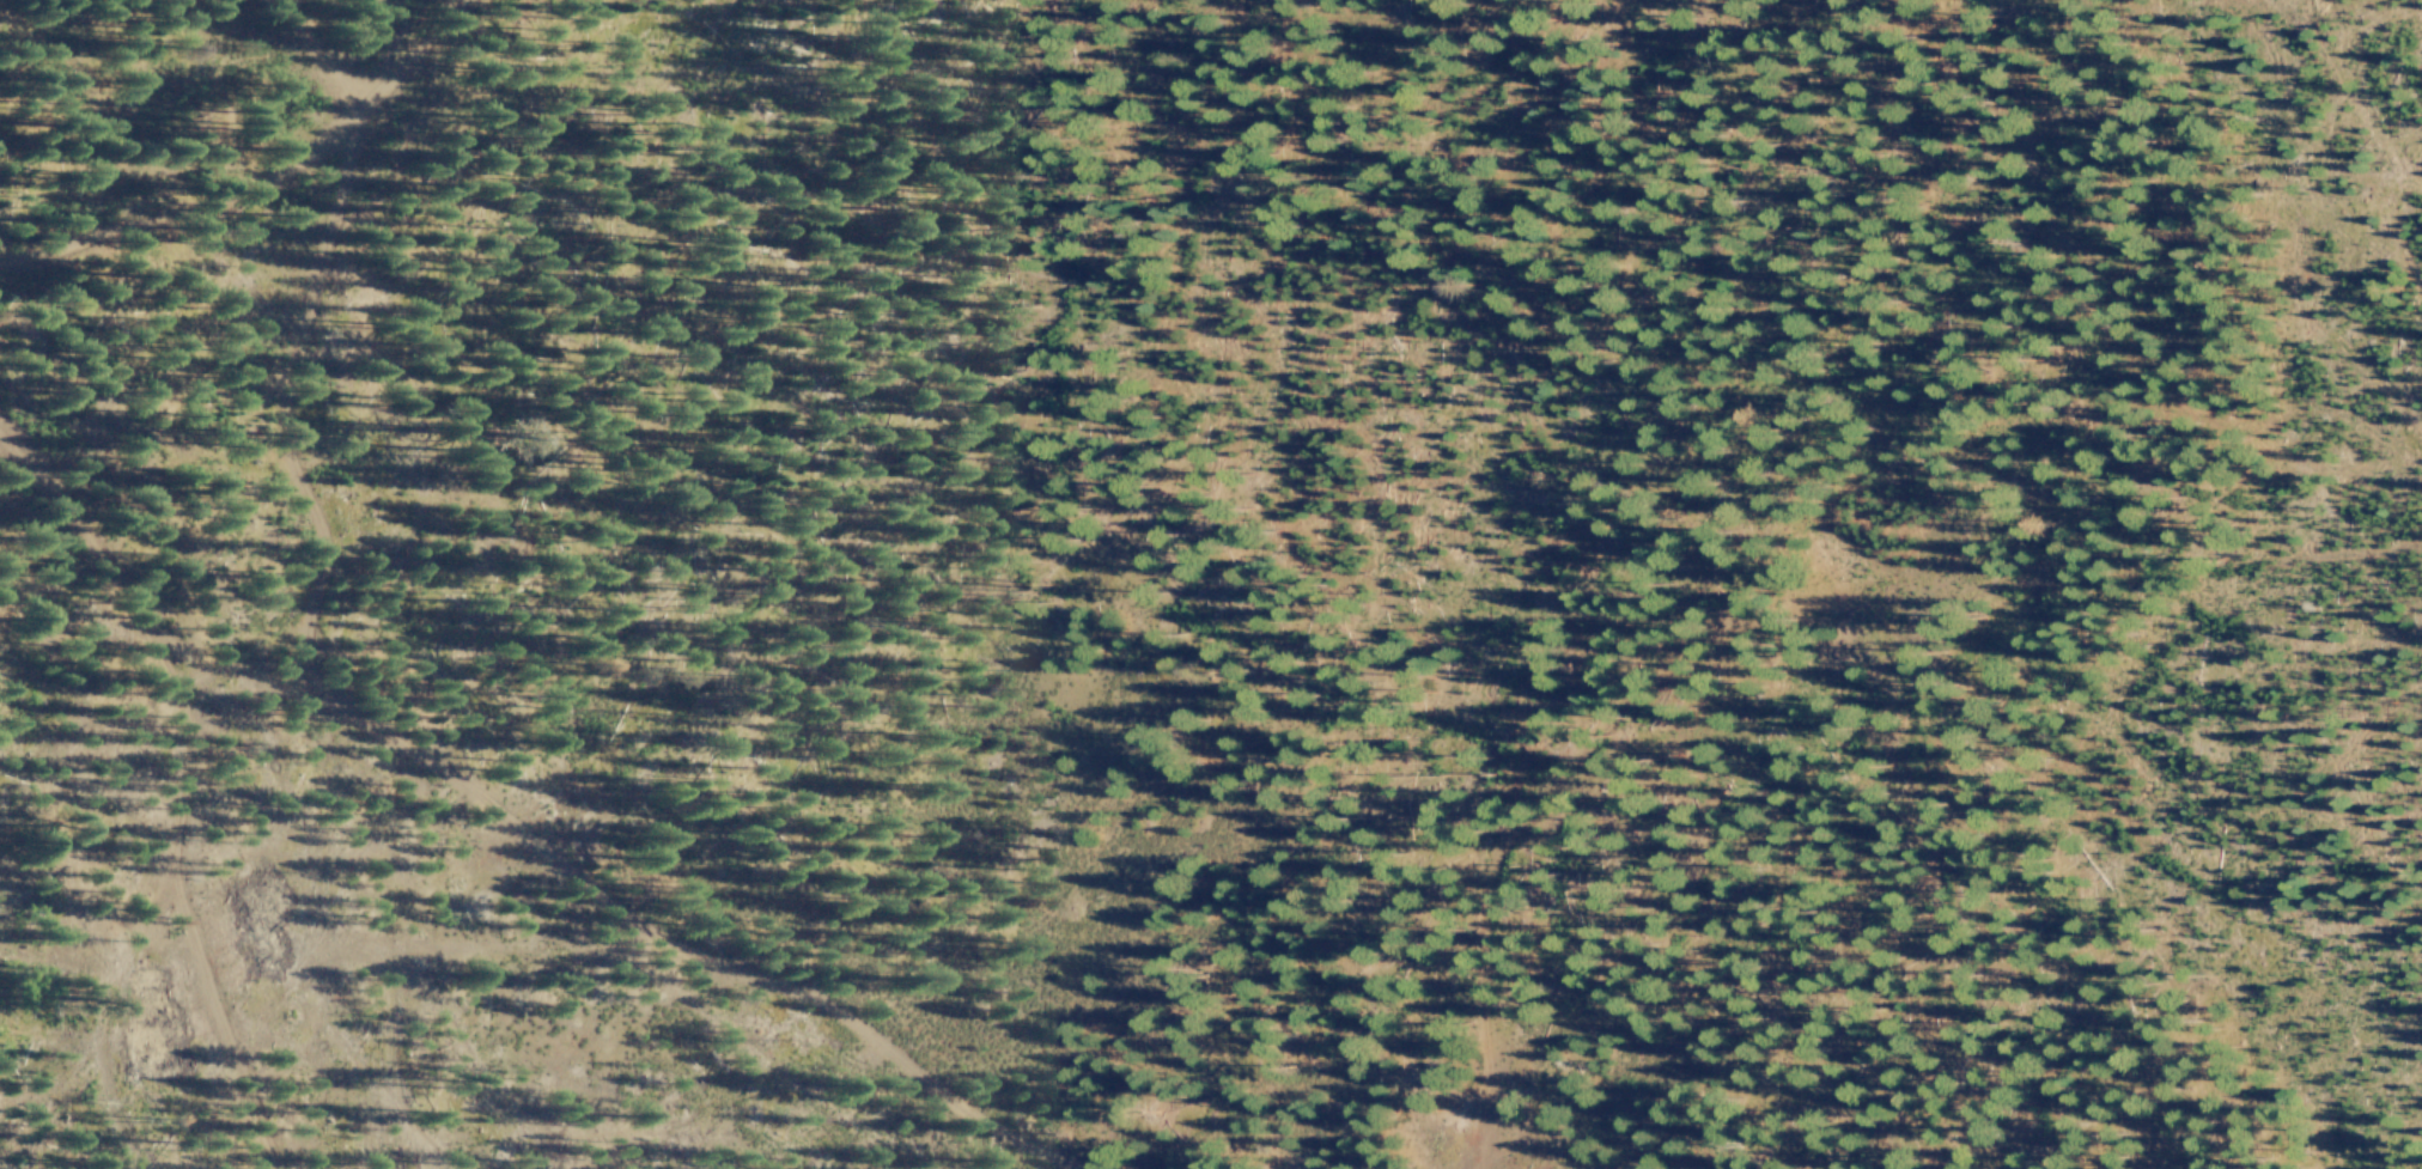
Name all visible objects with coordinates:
road: (315, 128)

